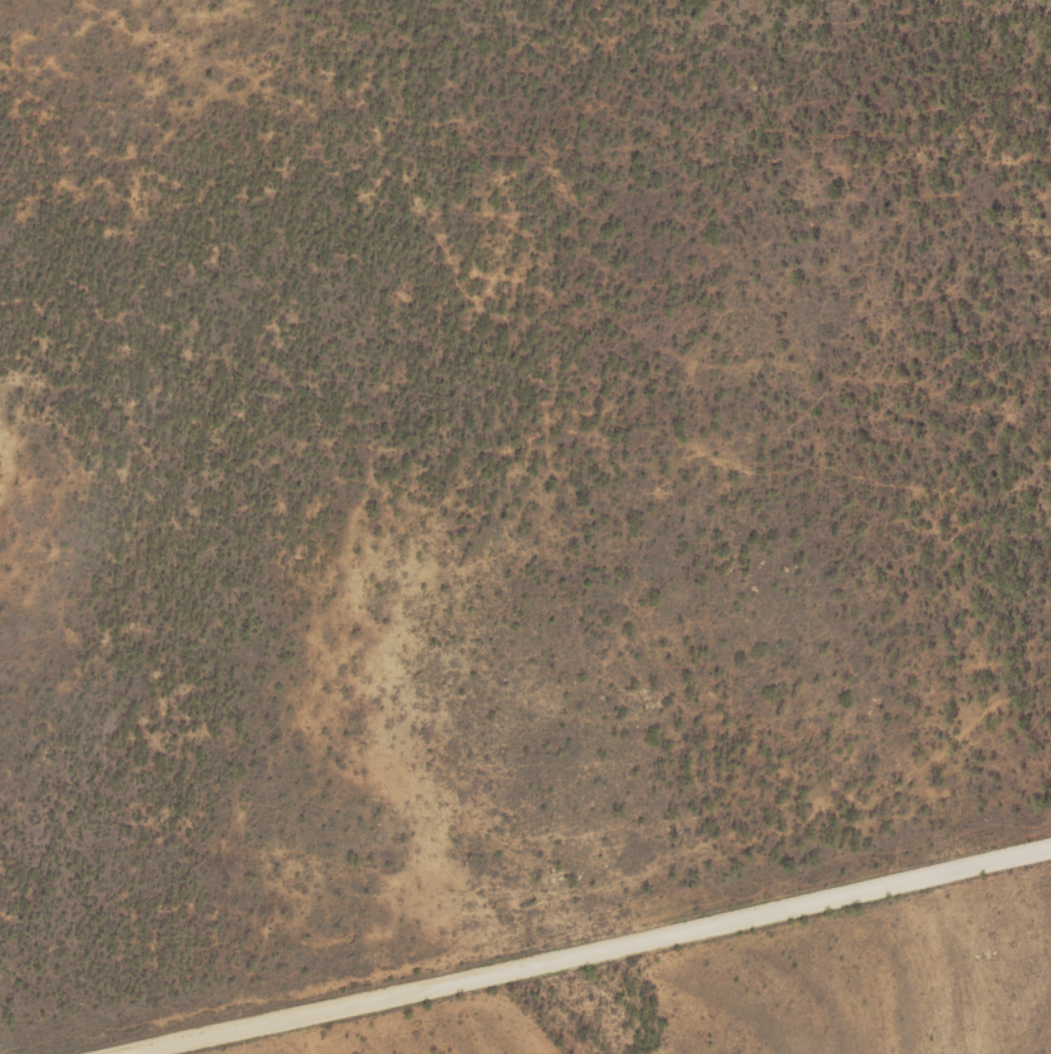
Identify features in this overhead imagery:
road: (587, 950)

